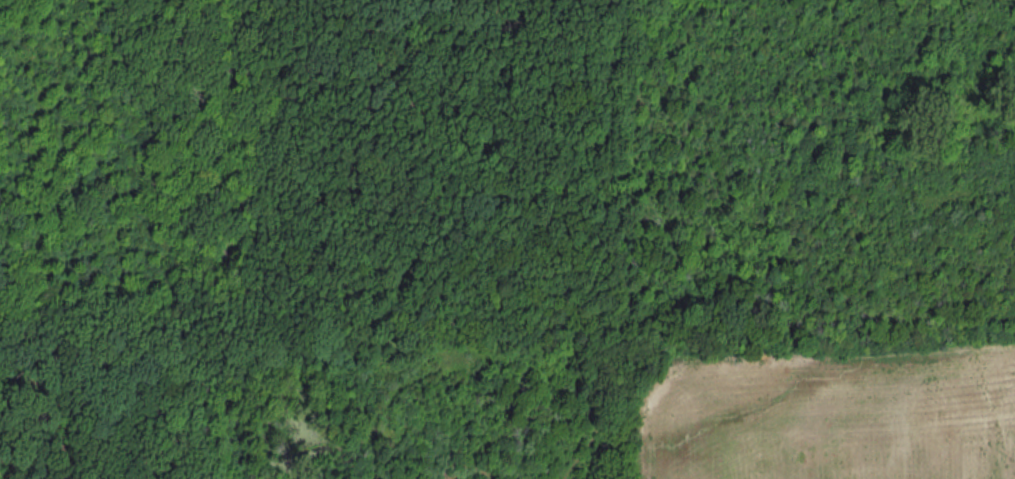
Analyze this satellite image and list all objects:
crop: (840, 419)

